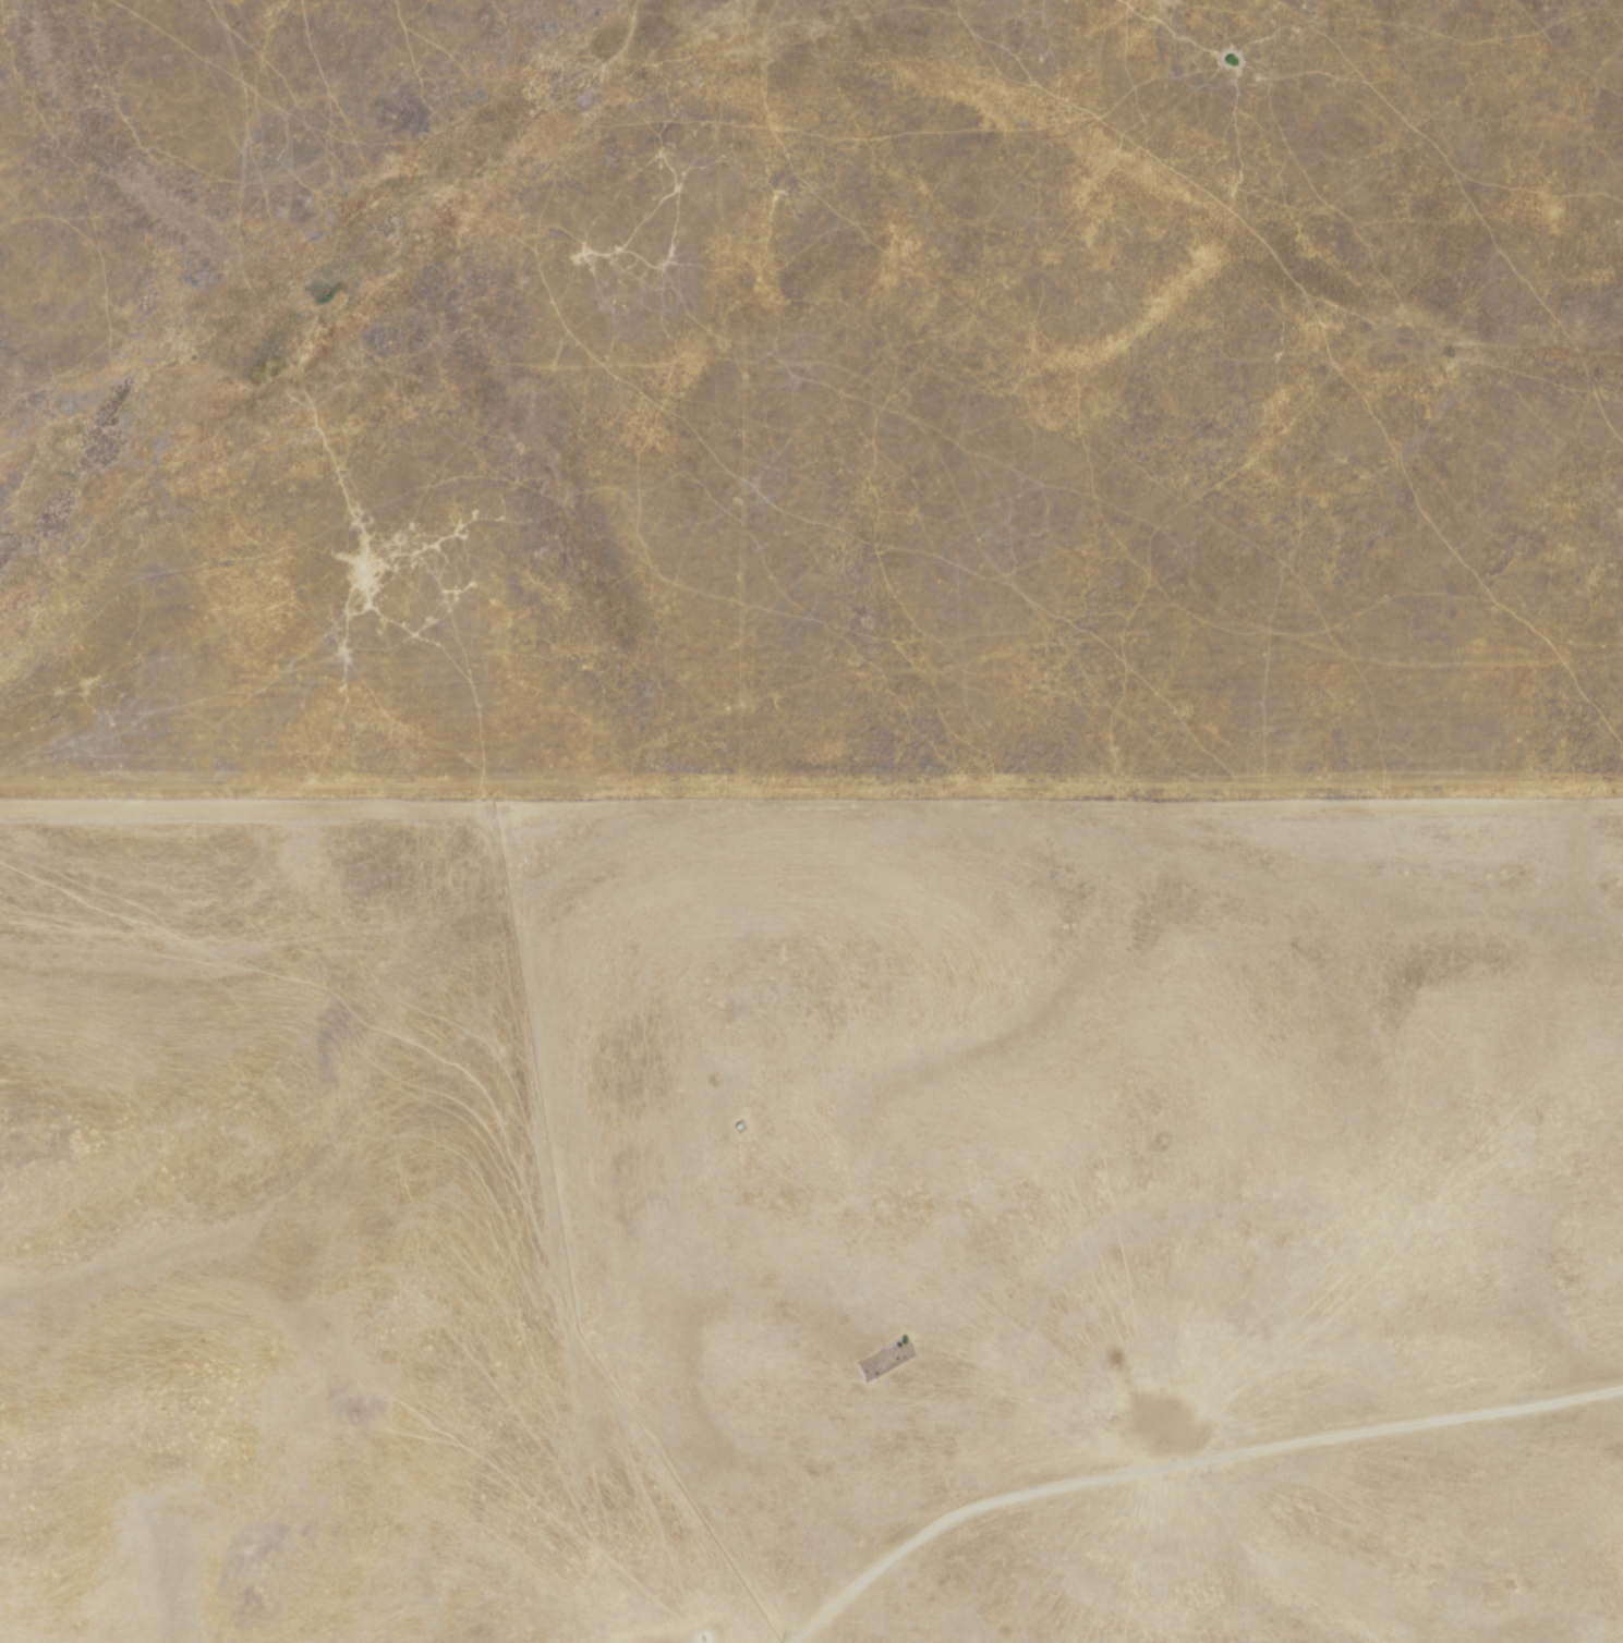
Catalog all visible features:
road: (249, 807)
road: (1184, 1463)

